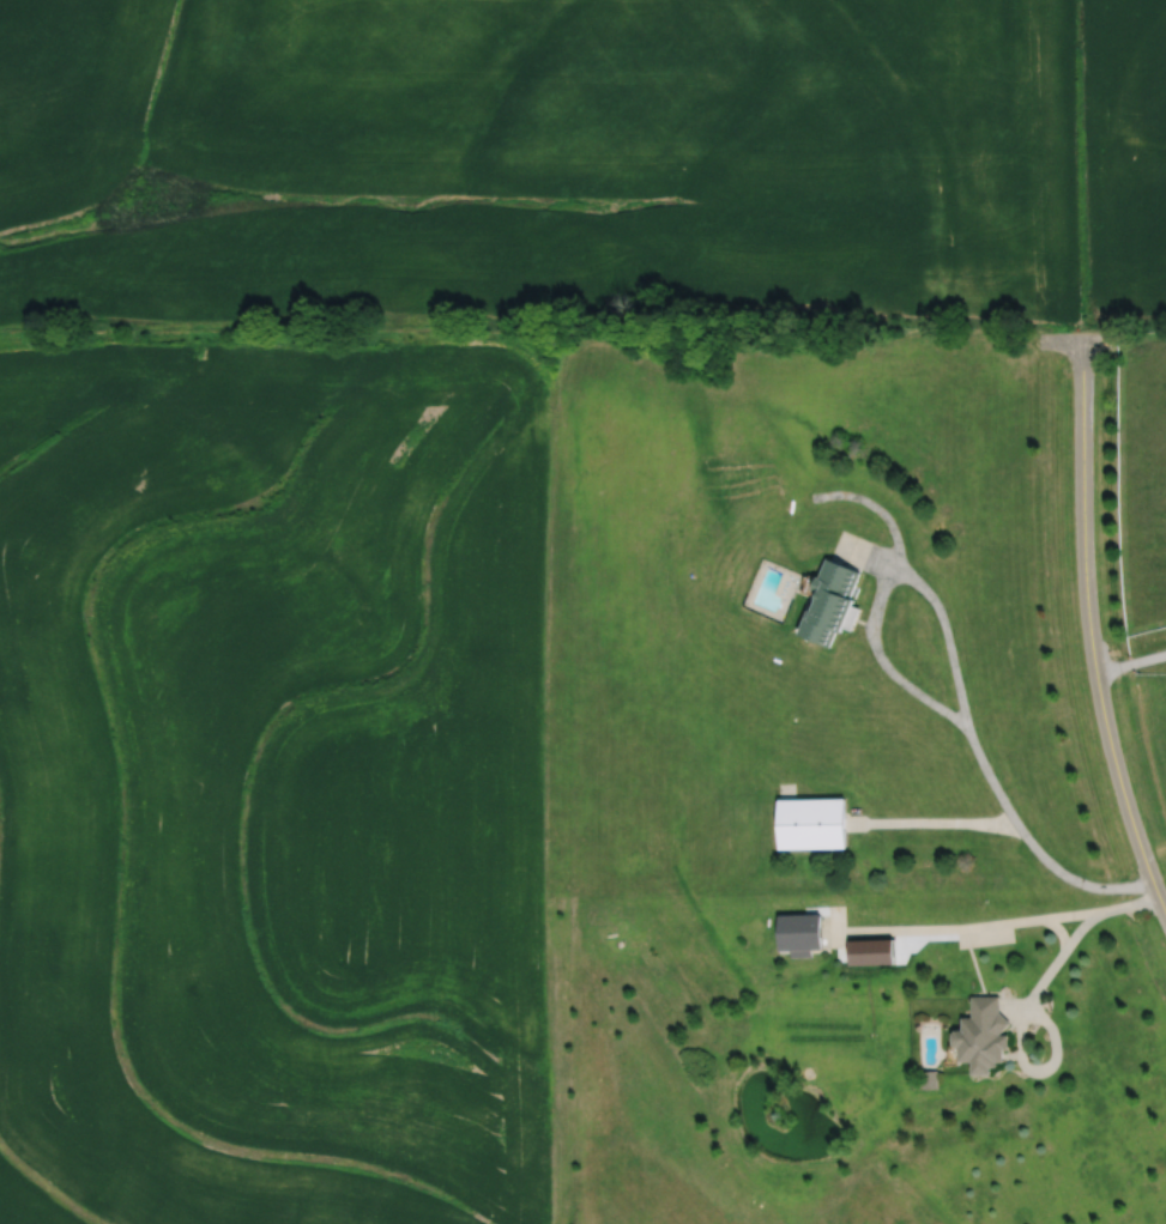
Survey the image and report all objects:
crop: (1123, 164)
building: (830, 602)
road: (1089, 628)
road: (1130, 663)
road: (953, 666)
building: (812, 825)
road: (1081, 928)
building: (802, 933)
building: (983, 1037)

